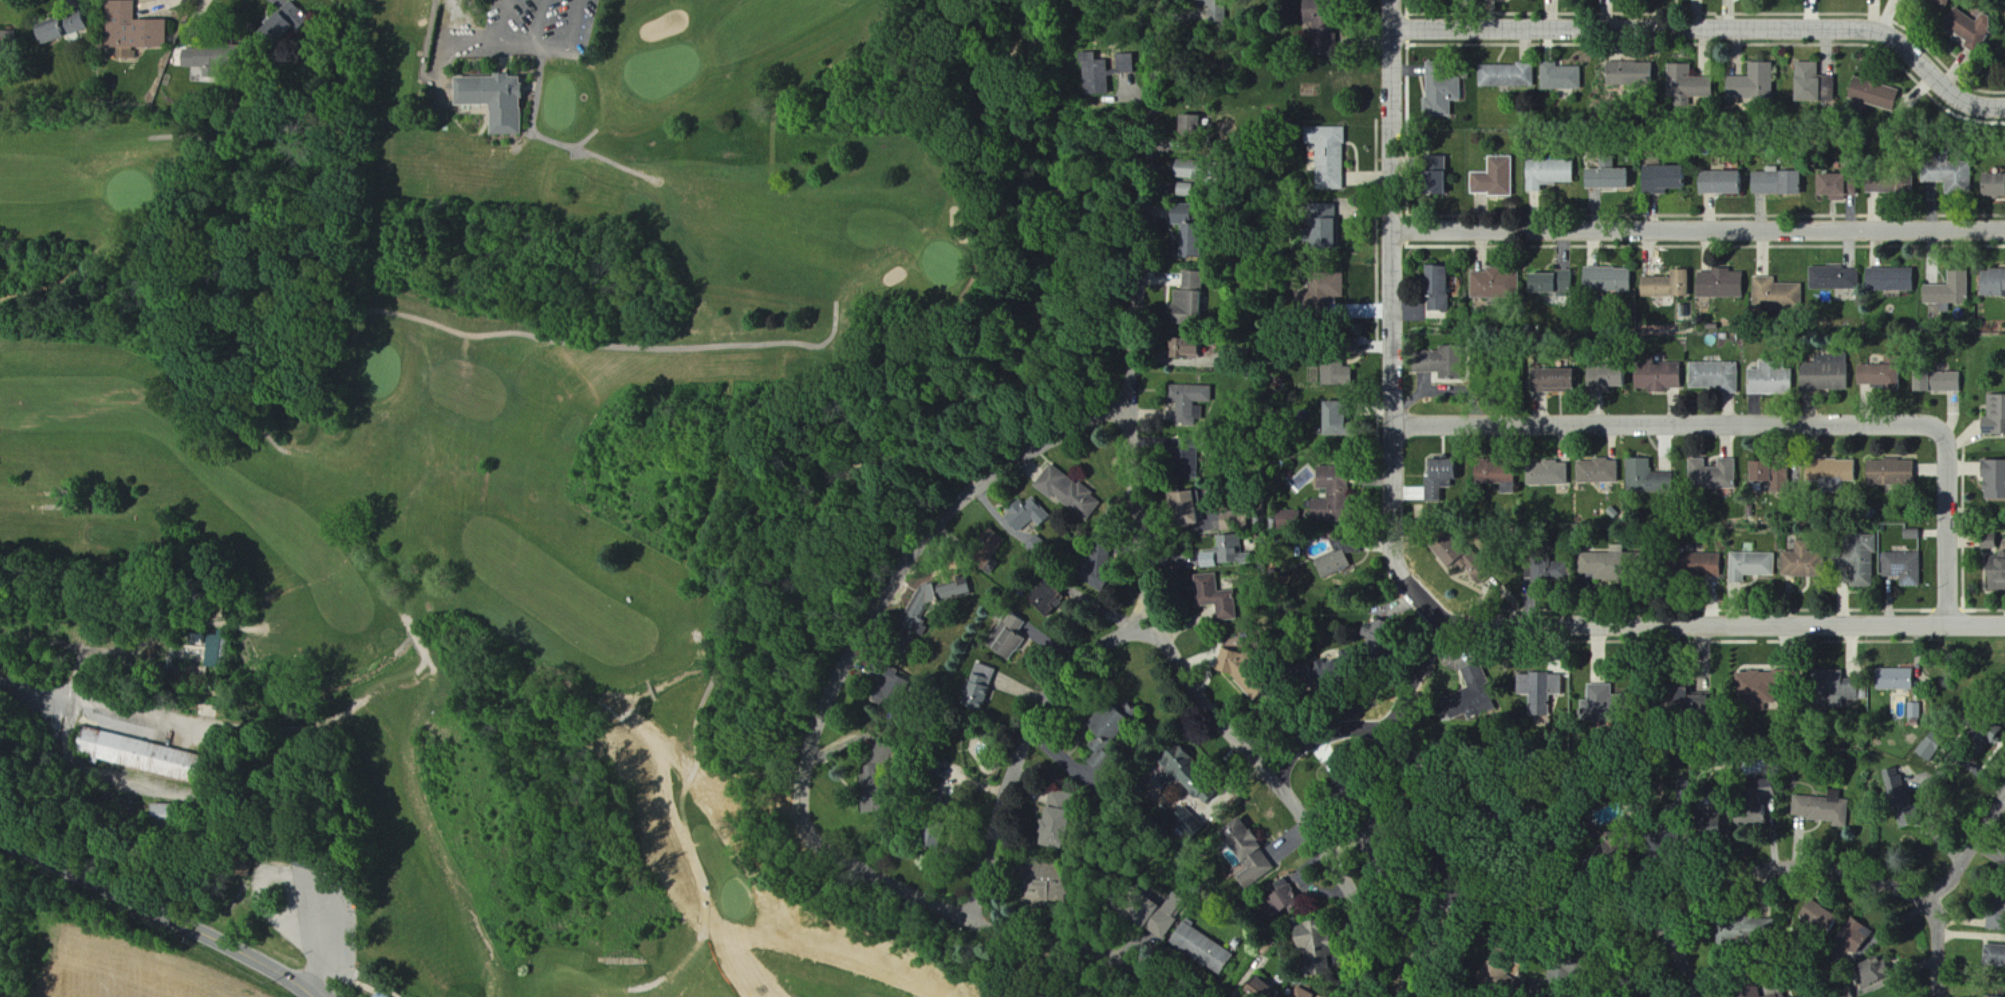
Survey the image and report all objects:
road: (539, 23)
building: (288, 25)
road: (1714, 25)
building: (70, 27)
building: (1966, 29)
building: (139, 30)
road: (500, 35)
road: (570, 43)
building: (10, 46)
building: (220, 58)
building: (1131, 63)
building: (1627, 73)
building: (1101, 75)
building: (1505, 76)
building: (1559, 77)
building: (1687, 83)
building: (1750, 84)
building: (1811, 84)
building: (1872, 94)
building: (1440, 96)
building: (502, 101)
building: (1197, 129)
building: (1326, 156)
building: (1199, 171)
building: (1547, 174)
building: (1434, 176)
building: (1947, 177)
building: (1493, 178)
building: (1605, 179)
building: (1662, 179)
building: (1719, 183)
building: (1774, 183)
building: (1827, 185)
building: (1886, 185)
building: (1991, 185)
building: (1186, 191)
building: (1324, 211)
building: (1192, 231)
road: (1701, 231)
building: (1833, 279)
building: (1605, 280)
building: (1887, 280)
building: (1549, 282)
building: (1991, 283)
building: (1493, 284)
building: (1718, 284)
building: (1664, 285)
building: (1324, 286)
building: (1434, 289)
building: (1947, 292)
building: (1776, 295)
building: (1194, 297)
building: (1361, 312)
road: (1397, 321)
building: (1197, 347)
building: (1433, 363)
building: (1334, 374)
building: (1822, 374)
building: (1605, 377)
building: (1656, 377)
building: (1713, 377)
building: (1876, 377)
building: (1552, 380)
building: (1769, 381)
building: (1934, 382)
building: (1194, 403)
building: (1994, 417)
road: (1768, 424)
road: (1127, 425)
building: (1332, 426)
park: (482, 430)
building: (1596, 471)
building: (1829, 471)
building: (1768, 472)
building: (1545, 473)
building: (1889, 473)
building: (1493, 475)
building: (1711, 475)
building: (1645, 476)
building: (1438, 477)
building: (1993, 480)
building: (1072, 492)
building: (1329, 498)
building: (1193, 503)
building: (1031, 515)
building: (1289, 521)
building: (1239, 522)
building: (1911, 534)
building: (1987, 542)
building: (1231, 554)
building: (1861, 562)
building: (1107, 564)
building: (1331, 564)
building: (1801, 564)
building: (1600, 565)
building: (1708, 565)
building: (1750, 566)
building: (1903, 568)
building: (1547, 571)
building: (1995, 574)
building: (958, 590)
building: (1220, 597)
building: (1054, 599)
road: (1726, 626)
building: (1017, 638)
building: (1346, 665)
building: (1253, 675)
building: (1894, 678)
building: (1752, 684)
building: (895, 685)
building: (1480, 686)
building: (1540, 686)
building: (985, 688)
building: (1838, 688)
road: (96, 701)
building: (1597, 701)
building: (1914, 710)
building: (1120, 725)
road: (1321, 735)
road: (1028, 746)
building: (1927, 748)
road: (1404, 751)
road: (806, 754)
building: (1104, 756)
building: (146, 757)
building: (877, 769)
building: (1197, 779)
building: (1895, 783)
building: (1823, 808)
building: (179, 814)
building: (1063, 820)
building: (945, 838)
building: (1242, 845)
building: (1256, 870)
road: (1345, 884)
road: (1940, 892)
building: (1282, 895)
road: (1689, 901)
building: (1140, 910)
road: (159, 911)
building: (1816, 914)
building: (1163, 922)
building: (1757, 927)
building: (1322, 934)
building: (1309, 938)
road: (1422, 944)
building: (1200, 947)
building: (1993, 955)
road: (1670, 958)
building: (1863, 973)
building: (1257, 988)
building: (1304, 993)
building: (1844, 993)
building: (386, 995)

